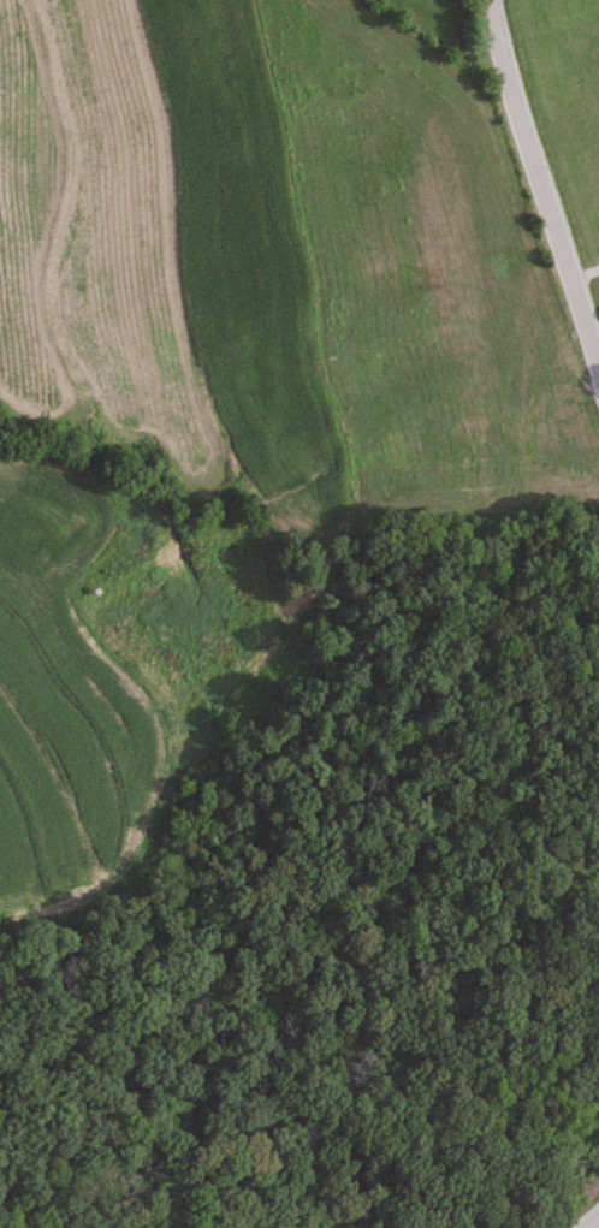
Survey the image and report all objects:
road: (540, 184)
building: (579, 812)
road: (593, 1223)

